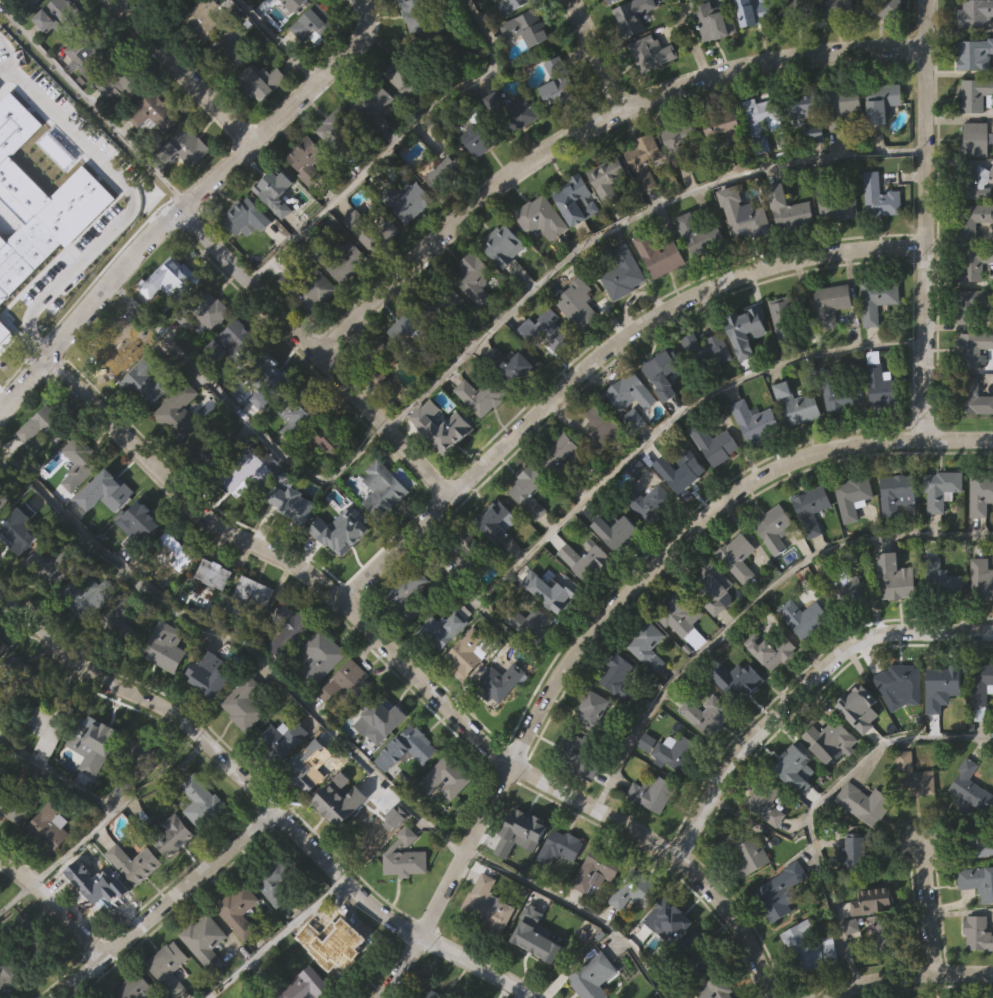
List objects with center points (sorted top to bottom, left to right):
building: (608, 0)
building: (33, 2)
building: (294, 3)
building: (509, 6)
building: (880, 7)
building: (834, 8)
building: (794, 9)
building: (752, 12)
building: (976, 13)
building: (59, 14)
building: (634, 14)
building: (203, 19)
building: (423, 20)
building: (715, 20)
building: (316, 24)
building: (527, 27)
road: (278, 39)
road: (689, 40)
building: (232, 47)
building: (91, 51)
building: (652, 52)
building: (973, 53)
road: (595, 55)
road: (185, 71)
building: (407, 74)
building: (123, 78)
building: (261, 81)
building: (560, 81)
building: (976, 94)
building: (884, 100)
building: (372, 103)
road: (94, 104)
building: (845, 104)
building: (805, 109)
building: (156, 111)
building: (510, 112)
building: (762, 118)
building: (14, 124)
road: (587, 128)
building: (725, 129)
building: (341, 132)
building: (684, 139)
building: (975, 140)
building: (485, 141)
road: (391, 142)
building: (186, 147)
building: (645, 159)
building: (308, 160)
building: (447, 174)
building: (973, 179)
building: (615, 181)
building: (275, 191)
road: (135, 193)
building: (881, 196)
building: (576, 199)
building: (407, 200)
building: (836, 200)
road: (190, 201)
building: (790, 208)
building: (249, 215)
building: (542, 215)
building: (746, 216)
road: (926, 219)
building: (972, 220)
road: (624, 222)
building: (373, 229)
building: (700, 235)
building: (504, 244)
building: (24, 251)
building: (660, 255)
building: (342, 259)
building: (971, 263)
building: (624, 273)
building: (475, 278)
building: (171, 279)
building: (309, 288)
building: (879, 298)
building: (441, 300)
building: (581, 302)
building: (833, 303)
building: (973, 303)
building: (204, 312)
building: (789, 314)
building: (745, 329)
building: (5, 331)
building: (545, 332)
building: (235, 341)
building: (114, 348)
building: (973, 348)
building: (708, 351)
road: (317, 352)
road: (597, 357)
building: (381, 359)
building: (516, 364)
building: (663, 371)
building: (270, 377)
building: (146, 380)
building: (882, 386)
building: (632, 391)
building: (839, 392)
building: (483, 395)
building: (973, 396)
building: (798, 404)
building: (299, 405)
building: (178, 411)
road: (239, 412)
building: (757, 421)
building: (45, 425)
building: (445, 427)
building: (605, 430)
building: (329, 440)
building: (715, 443)
road: (641, 447)
building: (212, 450)
building: (559, 456)
building: (0, 461)
building: (78, 462)
building: (255, 468)
building: (679, 468)
building: (39, 471)
building: (0, 475)
building: (383, 489)
building: (943, 489)
building: (106, 490)
building: (531, 491)
building: (898, 494)
building: (981, 494)
building: (854, 496)
building: (3, 500)
building: (649, 502)
building: (292, 504)
building: (812, 508)
building: (143, 520)
building: (498, 525)
building: (348, 527)
building: (19, 528)
building: (775, 528)
building: (381, 532)
building: (618, 532)
building: (938, 532)
building: (104, 534)
building: (528, 535)
building: (895, 536)
building: (851, 539)
building: (979, 539)
building: (649, 544)
building: (291, 545)
building: (178, 550)
building: (810, 551)
building: (469, 554)
building: (739, 557)
building: (586, 560)
building: (52, 565)
building: (139, 565)
building: (495, 565)
building: (218, 571)
building: (772, 571)
building: (342, 572)
building: (20, 573)
building: (614, 573)
building: (982, 579)
building: (897, 580)
building: (942, 581)
building: (714, 587)
building: (171, 588)
building: (847, 589)
building: (557, 592)
building: (100, 594)
building: (408, 595)
building: (249, 597)
building: (737, 600)
building: (584, 601)
road: (750, 604)
building: (677, 612)
road: (607, 615)
building: (806, 616)
building: (214, 617)
building: (893, 620)
building: (938, 621)
building: (118, 622)
building: (980, 622)
building: (531, 623)
building: (447, 627)
building: (289, 630)
building: (714, 630)
building: (409, 631)
building: (847, 633)
road: (238, 640)
building: (648, 643)
building: (3, 644)
building: (166, 648)
building: (771, 651)
building: (473, 652)
building: (322, 656)
building: (679, 659)
building: (802, 660)
building: (530, 666)
building: (288, 668)
building: (208, 673)
road: (413, 673)
building: (442, 673)
building: (20, 674)
building: (620, 676)
building: (945, 677)
building: (500, 683)
building: (739, 683)
building: (898, 683)
building: (347, 686)
building: (979, 687)
building: (645, 688)
road: (801, 690)
building: (769, 692)
building: (466, 695)
building: (320, 698)
building: (244, 707)
building: (858, 707)
building: (592, 709)
building: (707, 714)
building: (208, 716)
building: (380, 719)
building: (617, 720)
building: (50, 721)
building: (735, 722)
building: (946, 722)
building: (499, 724)
building: (342, 726)
building: (980, 726)
building: (900, 728)
building: (831, 737)
building: (90, 742)
building: (280, 742)
building: (243, 746)
building: (408, 747)
building: (577, 749)
building: (858, 750)
building: (592, 752)
building: (677, 753)
building: (931, 754)
building: (704, 757)
building: (136, 763)
building: (379, 764)
building: (305, 767)
building: (793, 767)
building: (2, 769)
building: (45, 771)
building: (444, 779)
building: (914, 781)
building: (280, 782)
building: (828, 782)
building: (92, 786)
building: (971, 789)
building: (405, 790)
road: (263, 794)
building: (653, 794)
road: (97, 797)
building: (341, 797)
building: (580, 797)
road: (820, 800)
building: (199, 801)
building: (767, 801)
building: (865, 803)
building: (18, 804)
building: (306, 807)
building: (794, 811)
building: (911, 819)
building: (443, 821)
building: (520, 827)
building: (49, 828)
building: (168, 835)
building: (650, 836)
building: (339, 841)
building: (980, 843)
building: (200, 844)
building: (560, 847)
building: (764, 847)
building: (859, 851)
building: (12, 852)
building: (750, 852)
building: (405, 857)
building: (134, 863)
building: (48, 869)
building: (599, 869)
building: (519, 874)
building: (173, 878)
building: (977, 879)
building: (275, 888)
building: (634, 888)
building: (557, 890)
building: (101, 891)
road: (17, 893)
building: (745, 895)
building: (851, 895)
building: (402, 897)
road: (55, 902)
building: (776, 902)
building: (875, 902)
road: (168, 903)
building: (489, 904)
building: (127, 906)
road: (927, 907)
building: (238, 909)
road: (579, 909)
building: (594, 913)
building: (666, 918)
building: (274, 924)
building: (99, 931)
building: (778, 934)
building: (979, 934)
building: (536, 936)
building: (628, 936)
building: (885, 937)
road: (274, 938)
building: (205, 941)
building: (810, 945)
building: (343, 946)
building: (486, 946)
building: (237, 951)
building: (692, 952)
building: (666, 963)
building: (169, 966)
building: (850, 969)
building: (13, 971)
building: (880, 975)
building: (591, 976)
road: (905, 976)
building: (533, 977)
building: (976, 977)
building: (202, 978)
building: (139, 985)
building: (303, 985)
building: (344, 985)
building: (717, 986)
building: (808, 986)
building: (693, 989)
building: (170, 992)
building: (435, 995)

